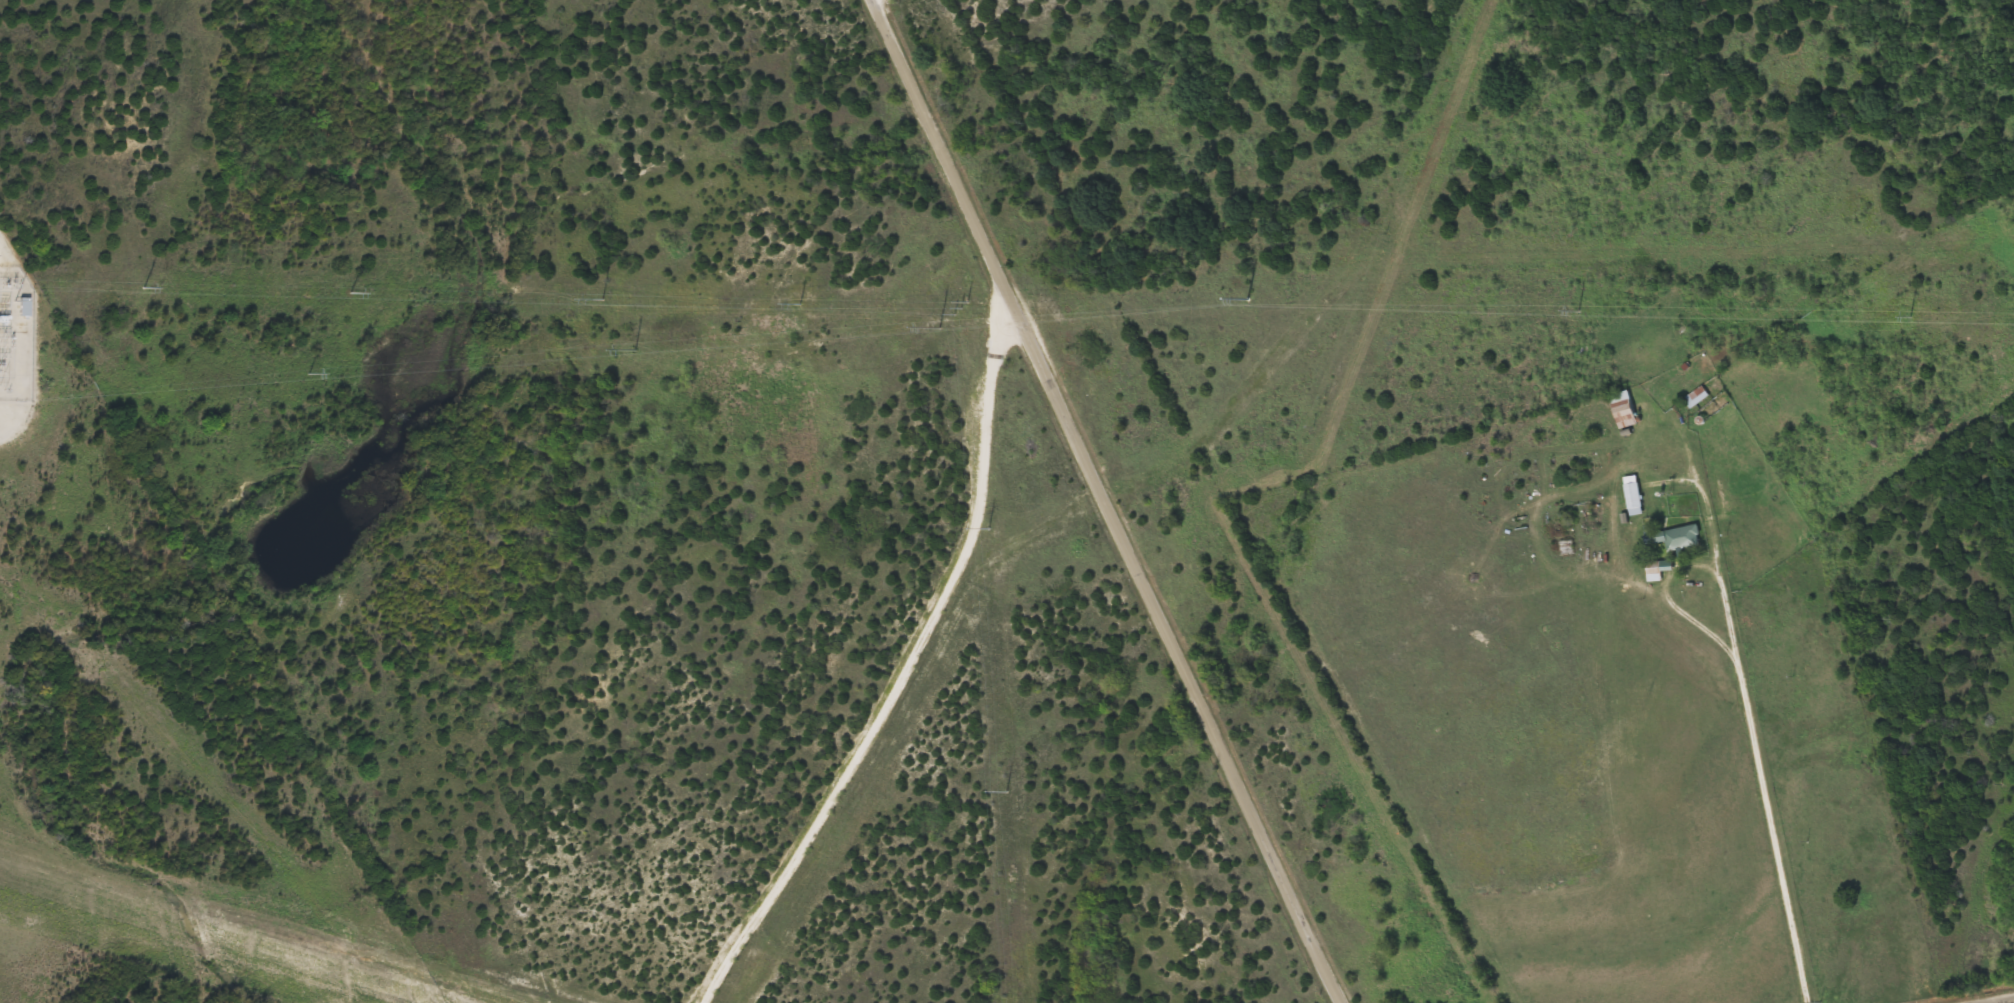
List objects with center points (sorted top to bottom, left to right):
building: (27, 307)
power substation: (15, 328)
building: (1693, 396)
building: (1619, 409)
building: (1628, 494)
road: (1111, 502)
building: (1677, 537)
building: (1649, 571)
road: (1669, 601)
road: (904, 670)
road: (1748, 714)
road: (1551, 901)
road: (2010, 1002)

